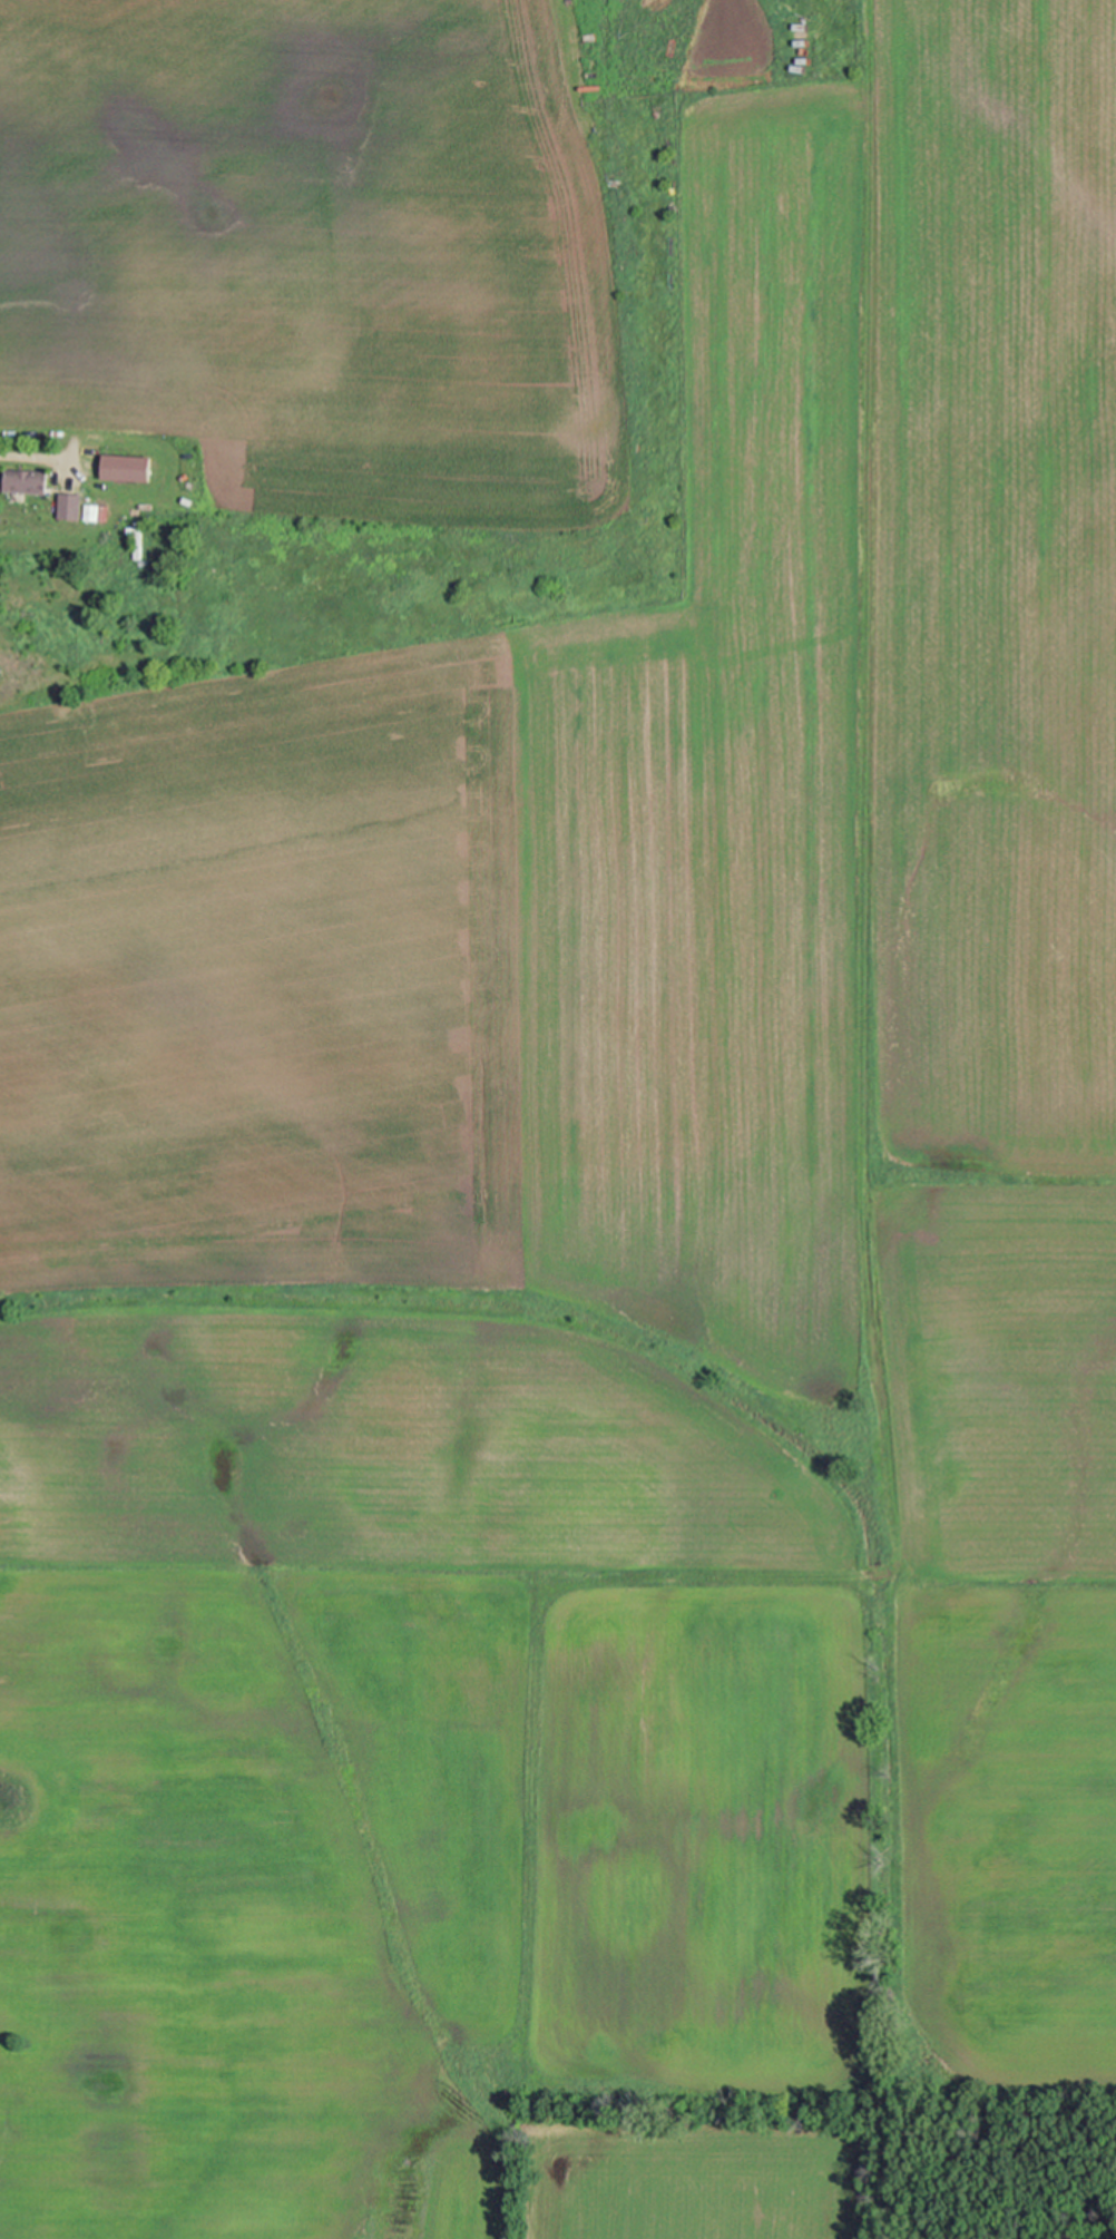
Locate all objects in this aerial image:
road: (36, 457)
building: (128, 470)
building: (27, 481)
building: (71, 507)
building: (92, 514)
building: (133, 541)
building: (138, 544)

